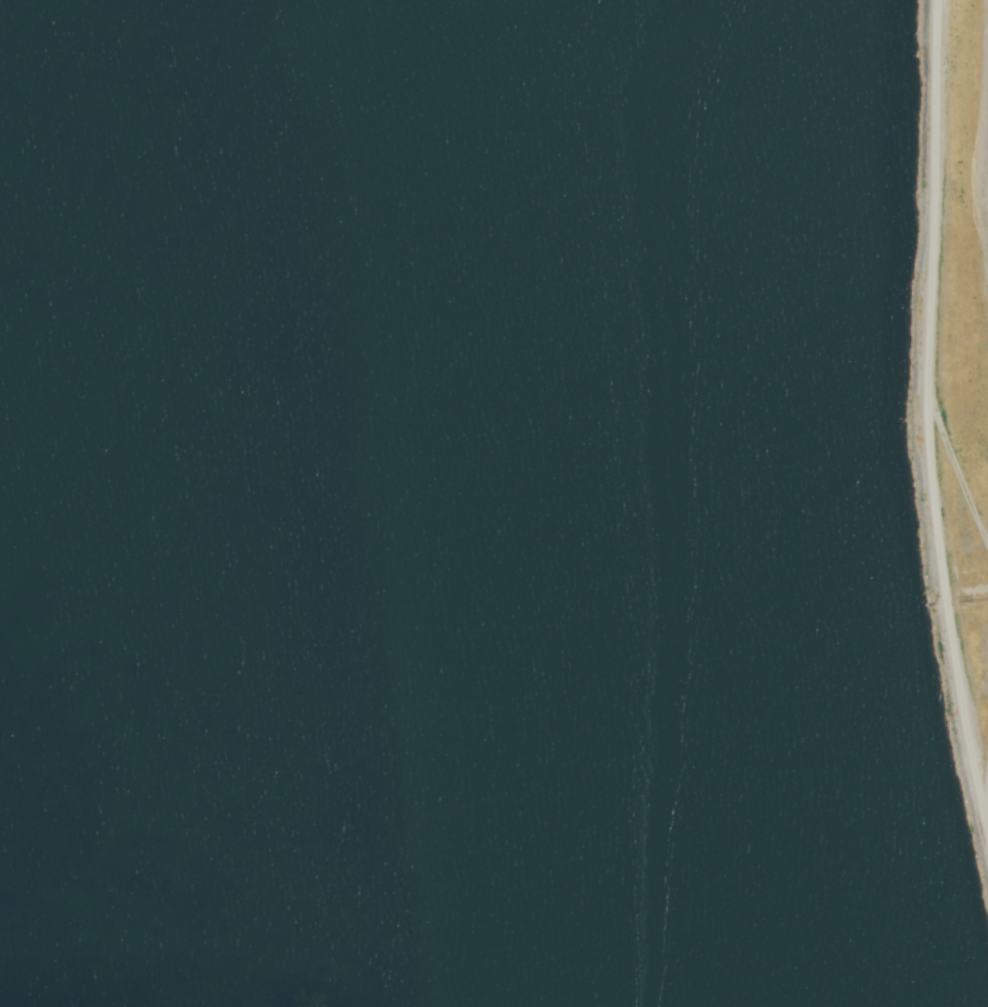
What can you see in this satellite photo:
road: (932, 305)
river: (537, 504)
road: (984, 727)

